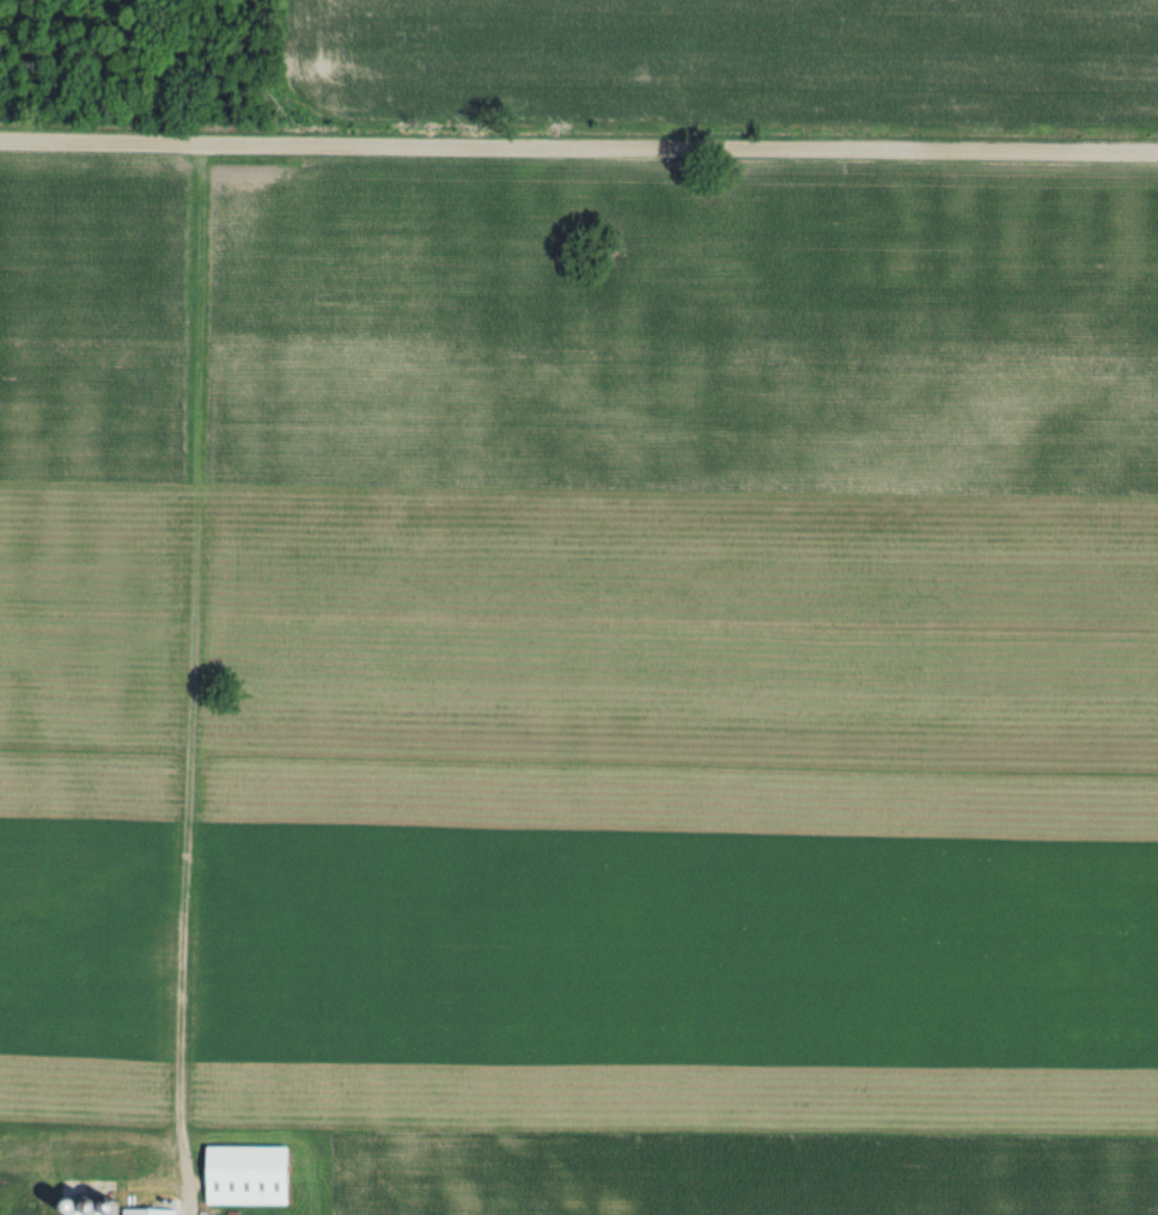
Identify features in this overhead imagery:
road: (579, 147)
building: (256, 1174)
building: (90, 1204)
road: (187, 1209)

